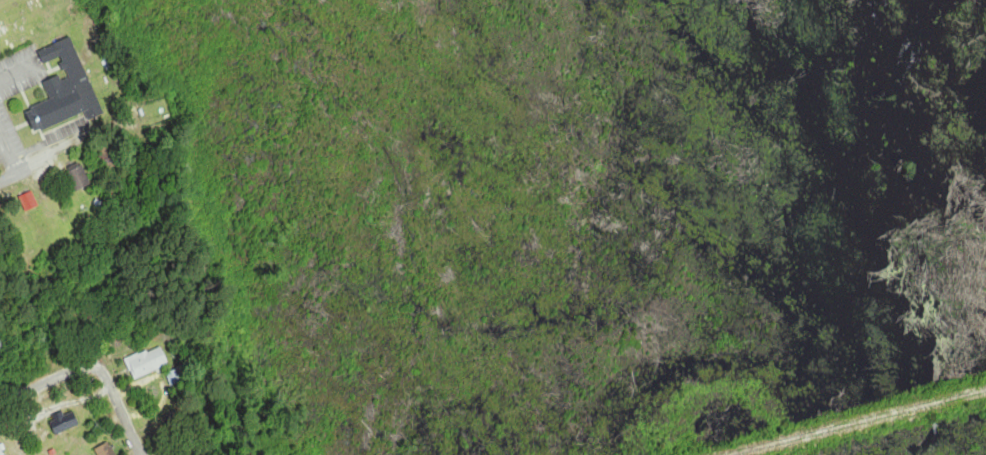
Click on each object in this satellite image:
building: (62, 88)
road: (15, 175)
building: (80, 179)
building: (29, 201)
building: (148, 363)
road: (72, 371)
railway: (855, 421)
building: (65, 423)
road: (134, 433)
building: (106, 450)
building: (1, 451)

